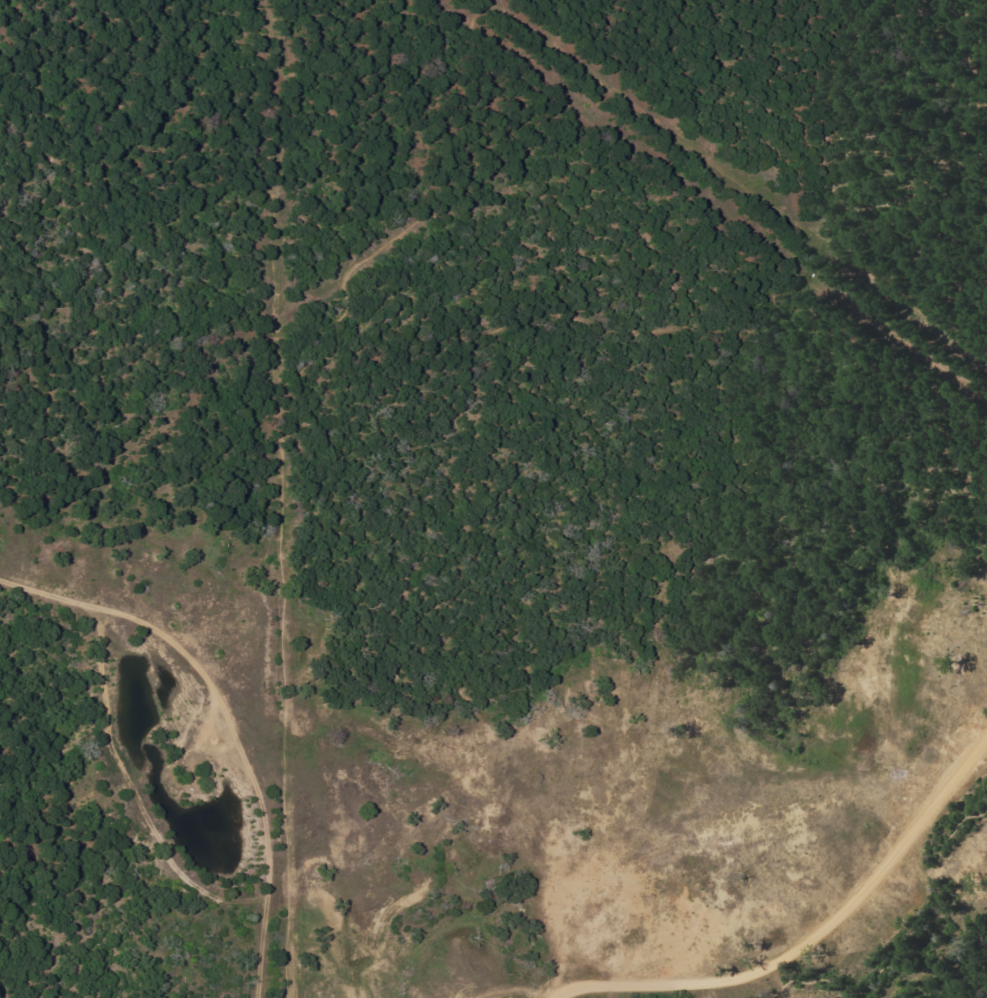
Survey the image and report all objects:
road: (712, 35)
road: (947, 79)
road: (899, 209)
road: (425, 212)
road: (986, 237)
road: (888, 410)
road: (278, 499)
road: (438, 831)
road: (811, 936)
road: (910, 940)
road: (524, 989)

